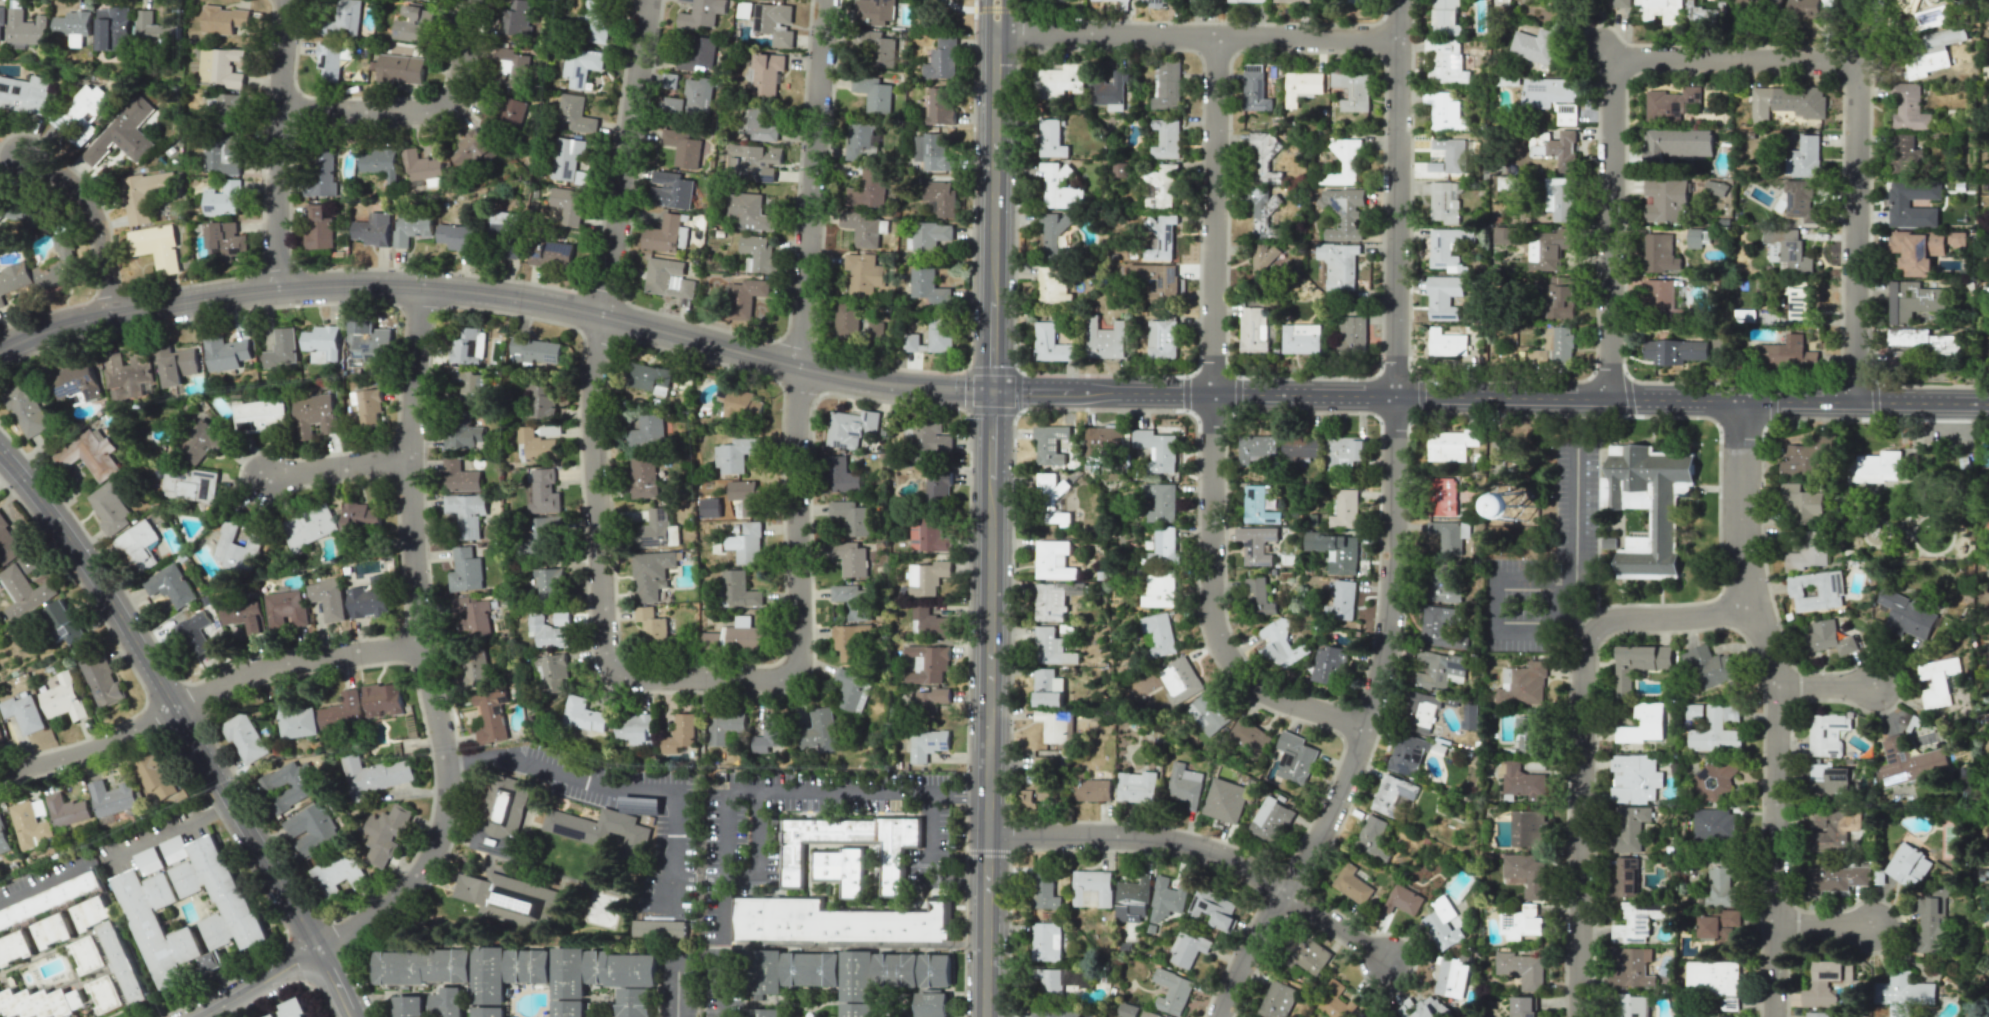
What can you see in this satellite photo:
building: (435, 0)
building: (1055, 0)
building: (1246, 1)
building: (1355, 1)
building: (1502, 2)
building: (1154, 3)
building: (1621, 3)
building: (1124, 4)
building: (1774, 5)
road: (954, 7)
road: (994, 9)
building: (1808, 9)
building: (1658, 10)
building: (873, 11)
park: (945, 13)
building: (1745, 13)
building: (700, 14)
building: (1707, 14)
road: (994, 16)
building: (2, 17)
building: (1445, 17)
building: (341, 18)
building: (516, 18)
building: (223, 19)
building: (594, 20)
building: (772, 22)
building: (413, 25)
building: (74, 26)
building: (25, 27)
building: (113, 28)
building: (152, 28)
road: (1194, 36)
building: (1534, 45)
building: (1939, 46)
building: (877, 48)
building: (696, 52)
building: (941, 60)
road: (1609, 60)
building: (329, 61)
building: (1444, 61)
road: (1736, 61)
building: (581, 66)
building: (220, 67)
building: (400, 68)
building: (511, 68)
building: (766, 73)
building: (1059, 82)
building: (1166, 86)
building: (1109, 90)
building: (1352, 90)
building: (1254, 91)
building: (872, 92)
building: (25, 94)
building: (1552, 96)
building: (692, 98)
building: (1672, 102)
building: (1787, 102)
building: (940, 105)
building: (1909, 108)
building: (228, 110)
street lamp: (461, 110)
building: (512, 111)
road: (416, 112)
building: (1446, 113)
building: (575, 114)
building: (81, 115)
building: (754, 125)
street lamp: (1230, 129)
building: (122, 134)
building: (1051, 139)
building: (1165, 139)
building: (861, 140)
road: (277, 143)
building: (1678, 143)
building: (471, 148)
building: (682, 148)
building: (1346, 149)
building: (1563, 150)
building: (932, 152)
building: (1452, 153)
building: (1906, 154)
building: (222, 155)
building: (566, 157)
building: (1806, 157)
road: (622, 158)
building: (1262, 160)
building: (759, 161)
building: (423, 162)
building: (380, 163)
building: (1119, 170)
building: (321, 173)
building: (1506, 183)
road: (810, 184)
building: (1162, 186)
building: (1059, 187)
building: (1715, 187)
building: (867, 189)
building: (670, 190)
building: (144, 194)
building: (940, 197)
building: (223, 199)
building: (1665, 201)
building: (1800, 201)
building: (1445, 202)
building: (1559, 202)
building: (1898, 203)
building: (568, 205)
road: (992, 212)
building: (1343, 212)
building: (2, 213)
building: (748, 213)
building: (1261, 216)
road: (94, 222)
building: (318, 228)
building: (411, 228)
building: (862, 228)
building: (372, 229)
building: (504, 232)
building: (1053, 233)
building: (930, 235)
building: (1504, 235)
building: (456, 236)
building: (1161, 237)
building: (1697, 238)
building: (1956, 239)
building: (226, 241)
building: (1445, 246)
building: (158, 247)
building: (1548, 248)
building: (1786, 249)
building: (1917, 251)
building: (550, 253)
building: (757, 253)
building: (1659, 253)
building: (60, 266)
building: (1264, 266)
building: (1337, 266)
building: (864, 273)
building: (668, 278)
building: (14, 279)
building: (1158, 281)
building: (1053, 285)
building: (928, 286)
building: (1659, 296)
building: (746, 297)
building: (1443, 297)
building: (1560, 297)
building: (1911, 300)
building: (1799, 303)
street lamp: (1195, 310)
building: (856, 324)
building: (1253, 330)
building: (1353, 334)
building: (938, 337)
building: (1301, 338)
building: (1106, 339)
building: (1162, 340)
building: (1920, 340)
building: (912, 342)
building: (1451, 342)
building: (322, 343)
building: (1049, 344)
building: (1562, 345)
building: (467, 347)
building: (281, 348)
building: (535, 351)
building: (1674, 351)
building: (225, 353)
building: (1786, 354)
building: (1536, 358)
building: (176, 364)
building: (128, 375)
building: (649, 378)
building: (79, 379)
building: (465, 385)
road: (984, 391)
traffic signals: (991, 392)
road: (1184, 392)
road: (1627, 394)
building: (541, 399)
road: (1772, 400)
road: (1872, 400)
building: (739, 403)
building: (369, 406)
building: (25, 409)
road: (1574, 413)
building: (261, 414)
building: (314, 415)
street lamp: (1849, 420)
road: (1211, 424)
building: (850, 428)
building: (462, 431)
building: (647, 432)
building: (1102, 439)
street lamp: (1715, 439)
building: (201, 441)
building: (927, 441)
building: (536, 443)
building: (1050, 443)
building: (1156, 445)
building: (1449, 445)
building: (1257, 448)
building: (1299, 448)
building: (1345, 451)
building: (89, 453)
building: (733, 454)
building: (1983, 454)
building: (1805, 457)
building: (1875, 467)
road: (336, 471)
building: (842, 475)
building: (459, 476)
building: (643, 477)
building: (189, 484)
building: (938, 487)
building: (543, 492)
building: (1442, 496)
building: (743, 498)
building: (1051, 499)
building: (1162, 502)
building: (1518, 503)
building: (1802, 503)
water tower: (1517, 505)
building: (1648, 505)
building: (110, 506)
building: (1258, 506)
building: (1345, 509)
building: (466, 513)
building: (360, 514)
building: (849, 518)
road: (1390, 526)
building: (308, 527)
building: (656, 530)
building: (928, 534)
building: (541, 535)
building: (1447, 536)
road: (1913, 540)
building: (745, 543)
building: (1164, 543)
building: (8, 544)
building: (1256, 544)
building: (137, 546)
building: (238, 546)
building: (1810, 550)
building: (1336, 551)
building: (850, 558)
building: (1052, 560)
parking lot: (1546, 560)
building: (465, 570)
building: (1987, 570)
building: (651, 574)
building: (927, 577)
building: (549, 581)
building: (1443, 583)
building: (170, 585)
building: (1159, 589)
building: (738, 590)
building: (1816, 591)
building: (24, 592)
building: (846, 596)
building: (1259, 597)
building: (328, 598)
building: (369, 599)
building: (1343, 599)
building: (1051, 600)
building: (286, 609)
building: (244, 614)
building: (472, 615)
building: (1907, 615)
building: (561, 618)
building: (65, 622)
road: (1550, 622)
building: (928, 623)
building: (1436, 624)
building: (651, 625)
building: (195, 633)
building: (550, 635)
building: (1158, 635)
building: (1828, 637)
building: (849, 641)
building: (1048, 645)
road: (418, 649)
building: (927, 663)
building: (1637, 664)
building: (1328, 665)
building: (1710, 666)
road: (296, 667)
building: (477, 668)
building: (1437, 670)
building: (553, 672)
road: (675, 675)
building: (1180, 679)
building: (102, 680)
building: (1937, 680)
building: (1523, 684)
road: (1828, 685)
building: (1047, 688)
building: (852, 690)
building: (63, 698)
building: (383, 699)
building: (930, 701)
road: (987, 704)
road: (1776, 706)
building: (342, 711)
building: (1420, 712)
building: (23, 713)
building: (1208, 713)
building: (583, 714)
building: (491, 716)
building: (1469, 716)
street lamp: (1282, 718)
building: (295, 719)
road: (189, 724)
building: (1643, 724)
building: (1053, 725)
building: (724, 727)
building: (636, 728)
building: (768, 731)
building: (819, 732)
building: (1530, 732)
building: (679, 733)
building: (1712, 733)
building: (1826, 734)
building: (1249, 736)
building: (0, 737)
building: (245, 738)
road: (1582, 743)
building: (926, 744)
road: (90, 745)
building: (1407, 754)
building: (1295, 757)
road: (475, 760)
building: (1908, 762)
building: (376, 776)
building: (159, 779)
building: (1634, 779)
building: (1830, 779)
building: (1714, 780)
building: (1523, 782)
building: (289, 785)
building: (1185, 785)
road: (650, 787)
building: (1136, 787)
road: (872, 789)
road: (960, 789)
building: (1091, 790)
building: (1393, 794)
building: (112, 797)
building: (1225, 800)
building: (39, 807)
building: (66, 810)
building: (503, 817)
building: (1271, 820)
road: (166, 823)
building: (1714, 823)
building: (29, 824)
building: (1629, 828)
building: (311, 829)
building: (1531, 829)
building: (1828, 830)
building: (603, 831)
building: (385, 834)
building: (1370, 835)
building: (4, 838)
park: (1951, 839)
road: (699, 846)
road: (1199, 850)
building: (893, 856)
road: (722, 859)
building: (842, 865)
building: (1907, 865)
road: (754, 872)
building: (337, 874)
building: (1526, 874)
road: (45, 876)
road: (960, 876)
building: (1625, 876)
building: (1836, 878)
building: (1352, 883)
building: (1721, 884)
building: (1091, 886)
building: (222, 892)
building: (1043, 892)
building: (51, 898)
building: (1166, 898)
building: (512, 899)
building: (1403, 899)
building: (1131, 900)
building: (1212, 909)
building: (94, 910)
building: (835, 917)
building: (1636, 921)
building: (1519, 922)
building: (1931, 922)
building: (159, 924)
building: (1442, 924)
road: (1823, 927)
building: (659, 928)
building: (54, 930)
building: (1720, 931)
building: (1045, 941)
building: (16, 948)
building: (1187, 949)
street lamp: (1345, 950)
building: (93, 952)
building: (1311, 956)
building: (124, 959)
building: (424, 965)
building: (530, 966)
building: (624, 967)
building: (813, 967)
building: (898, 967)
building: (937, 968)
building: (1631, 968)
road: (141, 969)
building: (766, 969)
building: (1521, 969)
building: (569, 974)
building: (859, 974)
building: (490, 976)
building: (1450, 976)
building: (1711, 977)
building: (1049, 981)
road: (257, 983)
building: (1825, 983)
road: (674, 986)
road: (721, 986)
building: (1903, 990)
building: (1171, 992)
building: (108, 993)
building: (1278, 999)
building: (1335, 1000)
building: (41, 1002)
building: (446, 1002)
building: (636, 1002)
building: (936, 1004)
building: (1632, 1005)
building: (410, 1006)
building: (1522, 1006)
building: (297, 1008)
building: (1420, 1008)
building: (569, 1009)
building: (858, 1009)
building: (1127, 1010)
building: (490, 1012)
building: (766, 1012)
building: (1054, 1012)
building: (1817, 1013)
building: (276, 1015)
building: (1144, 1016)
building: (1385, 1016)
building: (1532, 1016)
building: (1642, 1016)
building: (1716, 1016)

